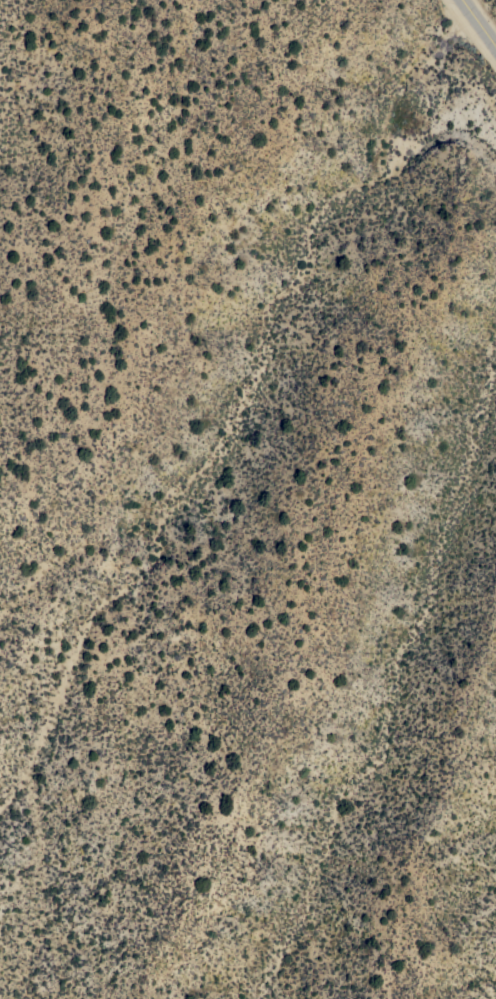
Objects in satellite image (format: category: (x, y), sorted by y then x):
road: (479, 22)
road: (336, 973)

